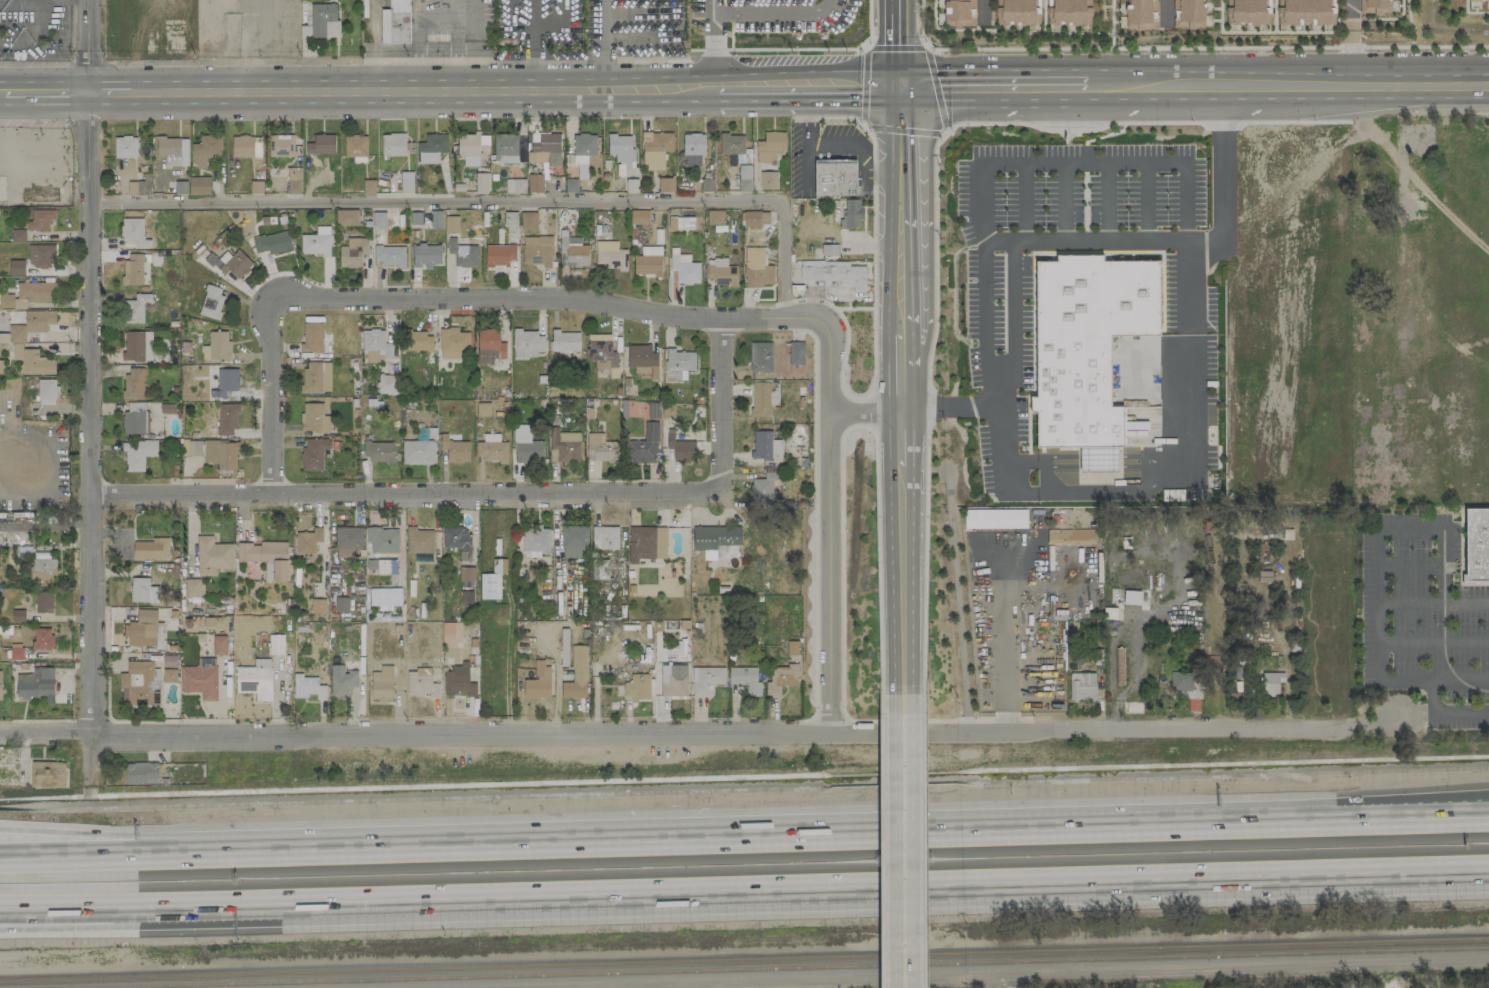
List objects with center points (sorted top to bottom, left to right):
road: (42, 0)
building: (217, 0)
building: (1473, 0)
building: (1479, 0)
building: (1374, 6)
building: (1067, 11)
road: (1166, 11)
building: (1247, 11)
road: (775, 12)
building: (1306, 12)
building: (959, 13)
building: (1188, 13)
road: (1349, 13)
building: (1141, 14)
road: (1408, 17)
road: (438, 18)
building: (639, 19)
building: (324, 20)
building: (395, 22)
road: (868, 24)
road: (921, 25)
road: (531, 29)
road: (1410, 38)
road: (1411, 42)
road: (85, 44)
road: (372, 44)
road: (601, 45)
road: (716, 45)
road: (777, 48)
road: (1209, 48)
road: (1350, 56)
road: (342, 61)
road: (598, 61)
road: (653, 61)
road: (1352, 84)
road: (1151, 88)
road: (42, 89)
road: (402, 90)
road: (994, 90)
road: (812, 91)
traffic signals: (904, 92)
road: (827, 117)
road: (1146, 123)
road: (876, 128)
building: (321, 144)
building: (393, 144)
building: (693, 144)
building: (731, 144)
building: (282, 145)
building: (242, 146)
building: (355, 146)
building: (125, 147)
building: (506, 147)
building: (431, 148)
building: (544, 148)
building: (621, 148)
building: (770, 148)
building: (469, 149)
building: (656, 149)
building: (205, 150)
building: (173, 151)
road: (1085, 163)
building: (744, 178)
building: (834, 178)
building: (174, 179)
building: (294, 180)
building: (768, 180)
building: (406, 182)
building: (481, 182)
building: (535, 183)
building: (515, 185)
building: (666, 185)
building: (199, 186)
building: (138, 188)
road: (490, 201)
building: (851, 214)
building: (510, 216)
building: (639, 216)
building: (346, 217)
building: (715, 217)
building: (416, 218)
building: (379, 219)
building: (435, 219)
building: (755, 219)
building: (40, 220)
building: (528, 220)
building: (451, 224)
building: (134, 232)
building: (17, 236)
building: (316, 242)
building: (272, 243)
road: (1011, 243)
building: (829, 249)
building: (537, 250)
building: (572, 251)
building: (352, 252)
building: (462, 254)
building: (389, 255)
building: (425, 255)
building: (499, 255)
building: (609, 255)
building: (41, 256)
road: (873, 260)
building: (648, 261)
road: (934, 261)
building: (229, 264)
building: (16, 268)
building: (683, 268)
building: (133, 269)
building: (721, 272)
building: (836, 274)
building: (759, 275)
road: (1188, 280)
building: (37, 291)
building: (11, 302)
building: (211, 302)
road: (449, 306)
building: (135, 308)
road: (854, 308)
road: (1017, 322)
building: (28, 326)
building: (312, 338)
building: (417, 341)
building: (565, 341)
building: (452, 343)
building: (527, 344)
building: (375, 345)
building: (137, 346)
building: (216, 346)
building: (489, 346)
building: (1088, 349)
building: (796, 353)
road: (842, 355)
road: (907, 355)
building: (602, 356)
building: (760, 357)
building: (32, 361)
building: (642, 361)
building: (678, 364)
building: (316, 377)
building: (226, 382)
building: (133, 383)
building: (387, 383)
building: (46, 391)
building: (763, 398)
road: (998, 407)
road: (929, 409)
building: (653, 410)
road: (722, 410)
road: (866, 410)
road: (88, 412)
road: (871, 412)
building: (134, 418)
building: (313, 418)
building: (226, 419)
building: (526, 446)
building: (563, 446)
building: (643, 446)
building: (765, 446)
building: (195, 447)
building: (600, 448)
building: (491, 449)
building: (681, 449)
building: (455, 450)
building: (378, 451)
building: (417, 452)
building: (313, 453)
building: (138, 454)
building: (221, 454)
building: (764, 486)
road: (1088, 492)
road: (408, 498)
building: (995, 519)
road: (824, 525)
road: (841, 527)
road: (1409, 528)
building: (11, 533)
building: (1070, 536)
building: (714, 537)
building: (604, 538)
building: (419, 540)
building: (457, 540)
building: (535, 540)
building: (307, 541)
building: (347, 541)
building: (574, 542)
building: (646, 543)
building: (1476, 544)
building: (151, 549)
building: (382, 549)
building: (728, 551)
building: (212, 553)
road: (925, 554)
building: (41, 555)
building: (265, 558)
road: (1410, 564)
building: (498, 566)
building: (43, 570)
building: (490, 586)
building: (192, 588)
building: (143, 591)
building: (384, 598)
road: (956, 600)
building: (43, 602)
building: (341, 604)
building: (318, 606)
parking lot: (1419, 610)
building: (18, 616)
building: (144, 630)
building: (451, 634)
building: (42, 638)
road: (1434, 639)
building: (275, 644)
building: (219, 645)
road: (1003, 646)
road: (1379, 655)
building: (576, 674)
building: (200, 678)
building: (779, 678)
building: (255, 679)
building: (705, 679)
building: (745, 679)
building: (673, 680)
road: (1460, 680)
building: (342, 681)
building: (538, 682)
building: (1271, 682)
building: (143, 683)
building: (381, 683)
building: (420, 683)
building: (36, 684)
building: (1185, 685)
building: (1082, 686)
building: (308, 687)
building: (637, 687)
building: (0, 688)
parking lot: (1457, 715)
road: (1148, 729)
road: (482, 731)
building: (140, 773)
road: (880, 833)
road: (874, 835)
road: (923, 835)
road: (130, 836)
road: (907, 850)
road: (130, 856)
road: (1479, 875)
road: (1479, 876)
road: (866, 891)
road: (131, 908)
road: (132, 927)
railway: (744, 959)
railway: (769, 968)
road: (1024, 975)

